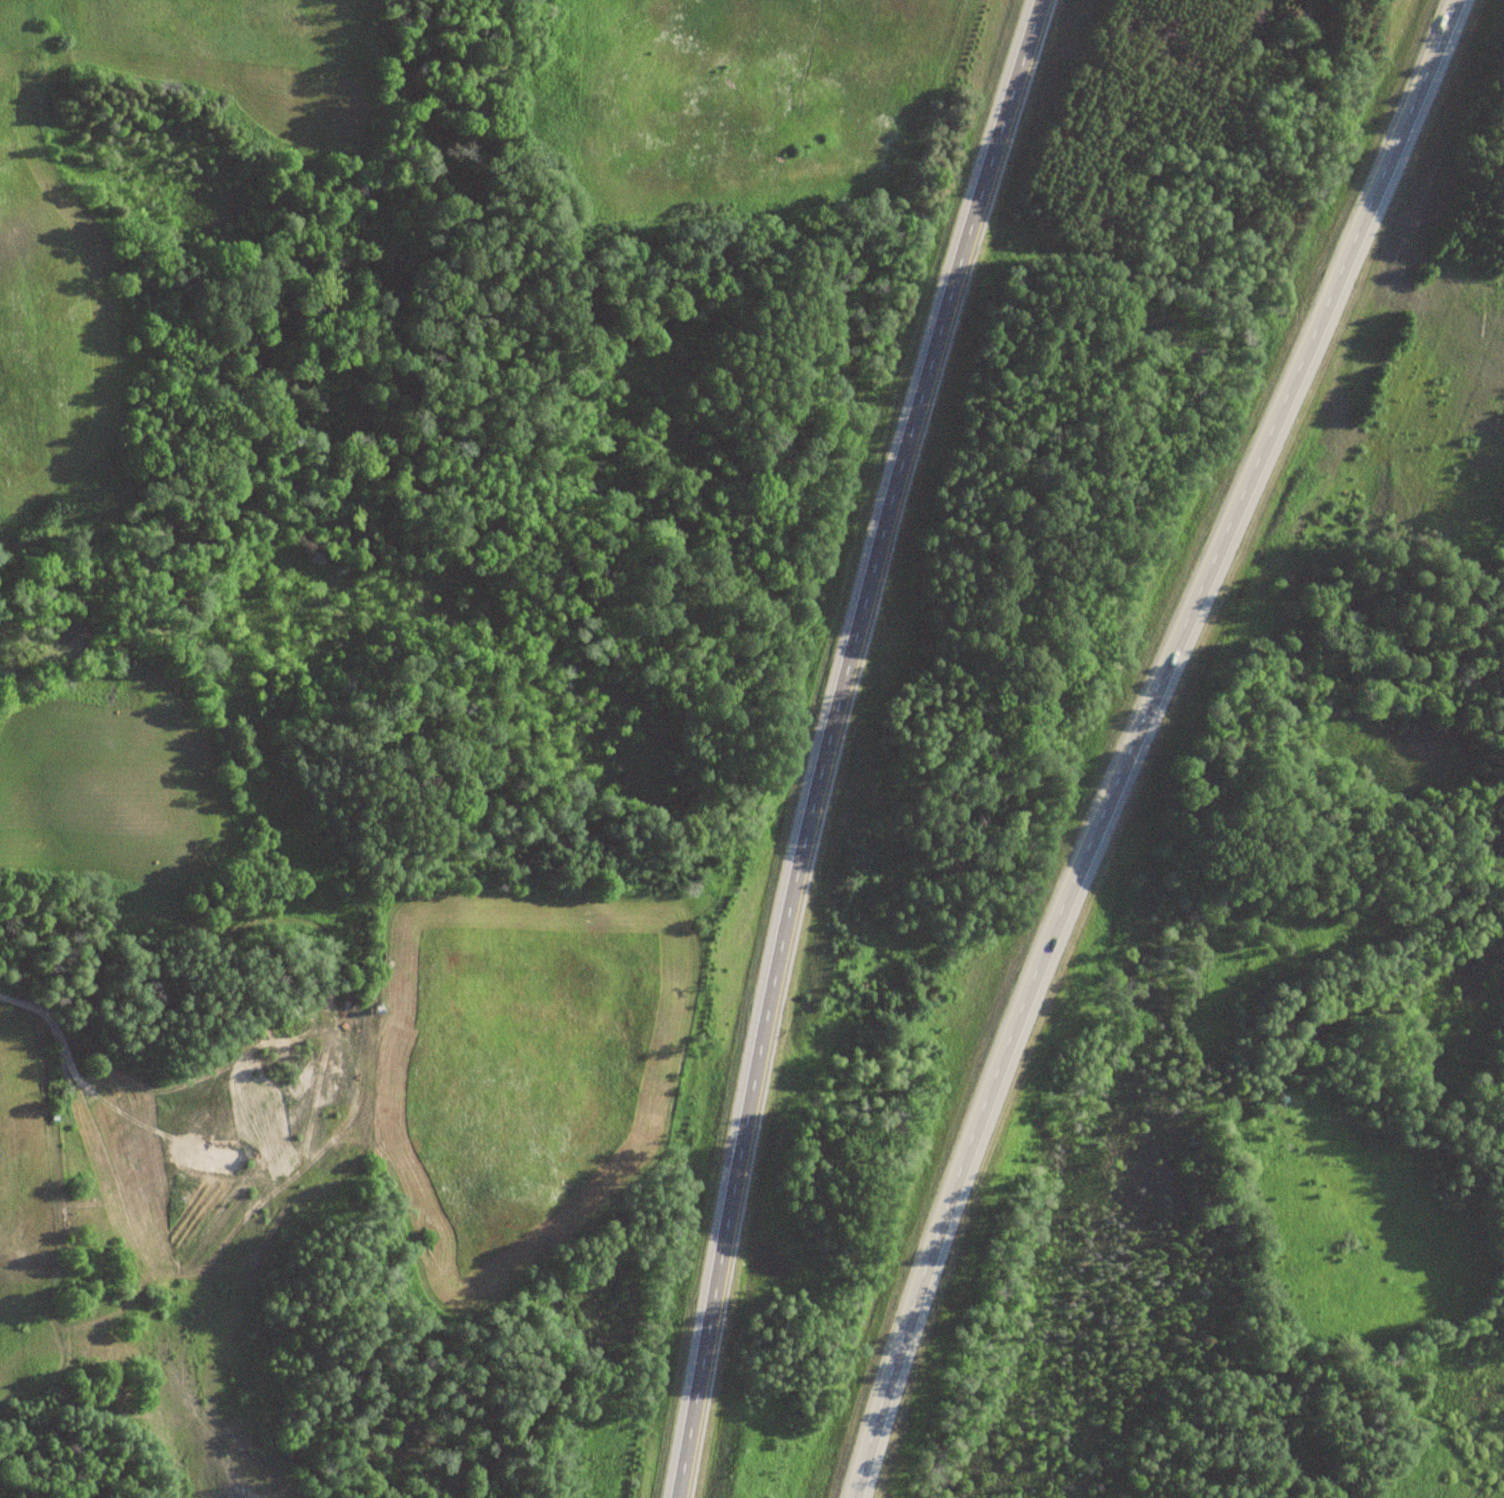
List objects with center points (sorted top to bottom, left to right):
road: (1130, 740)
road: (826, 741)

